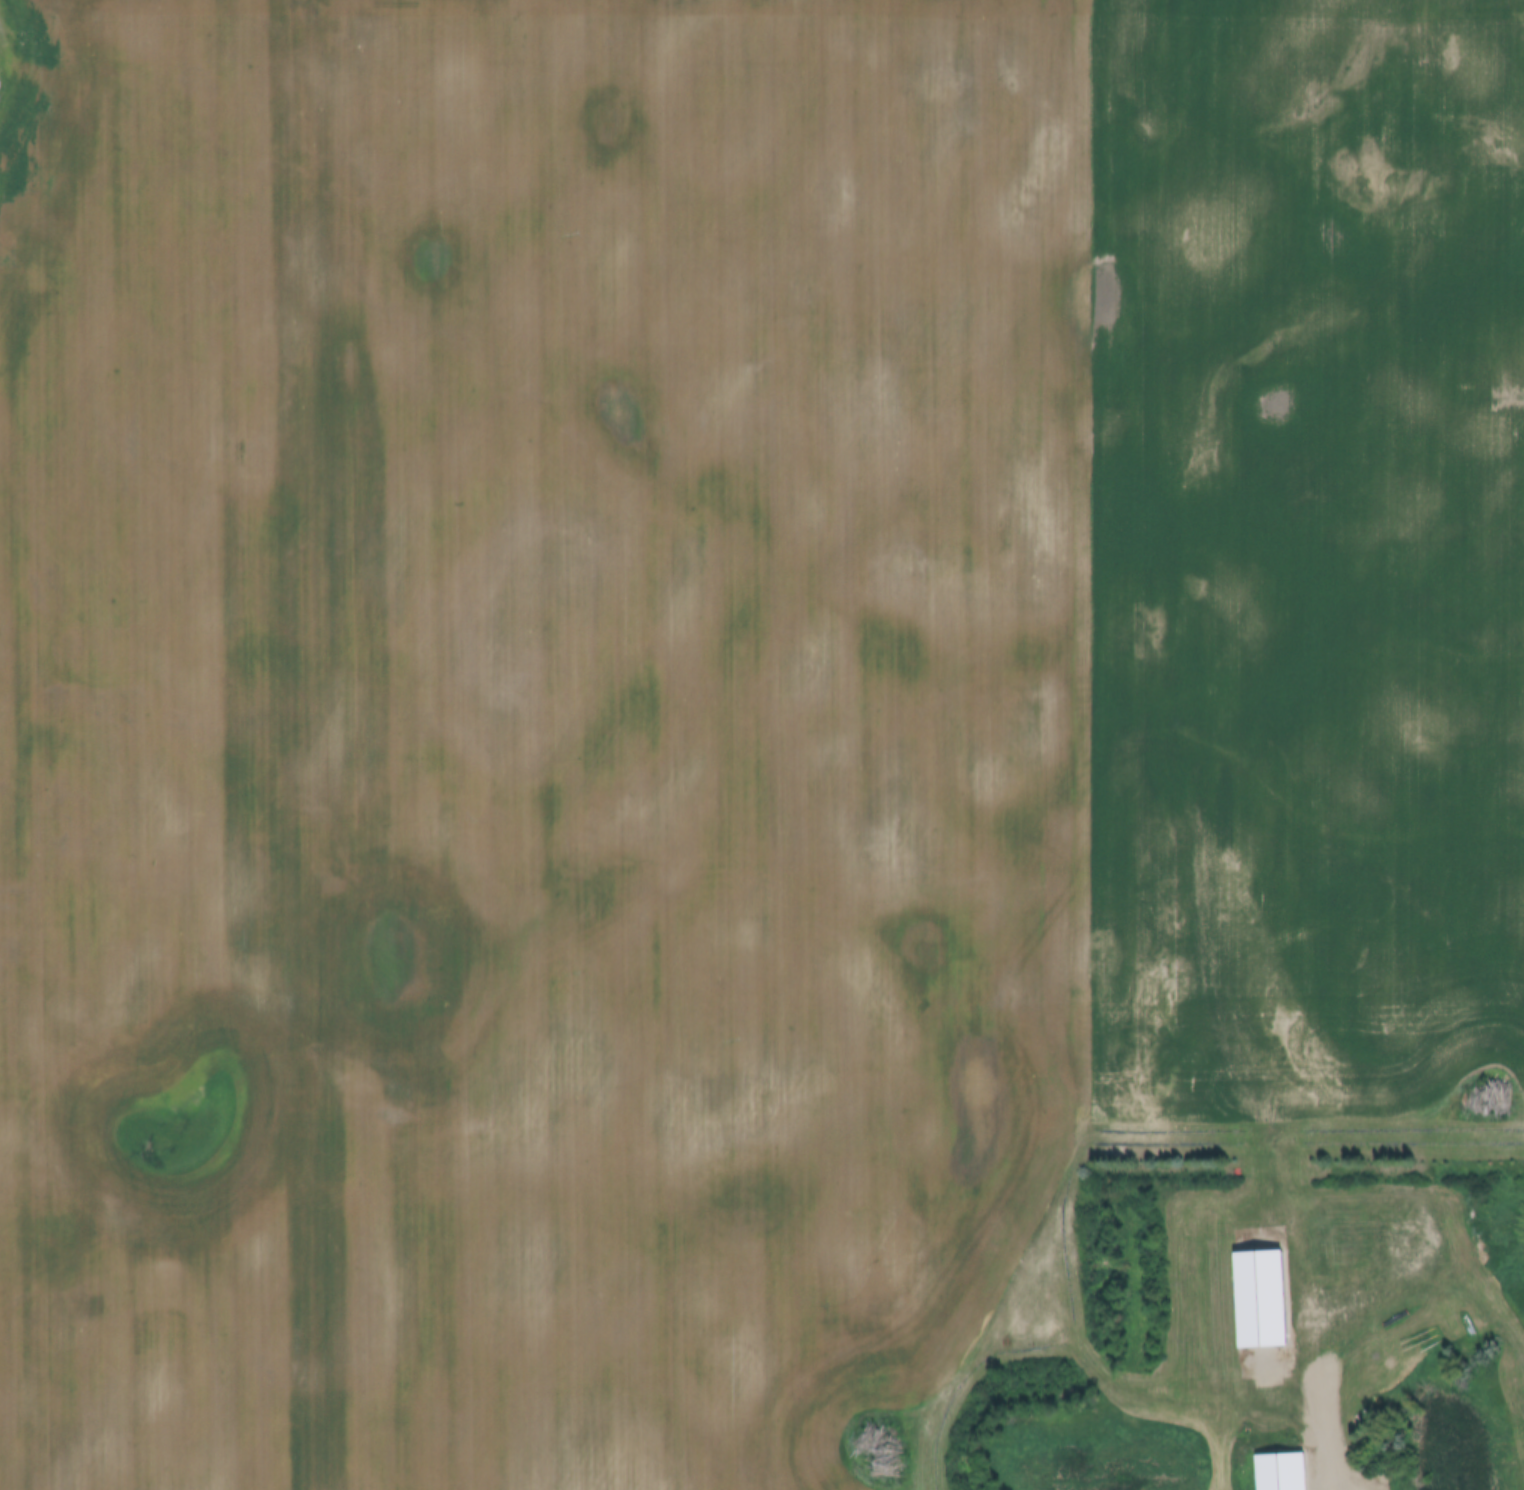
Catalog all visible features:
road: (1429, 1286)
building: (1258, 1291)
road: (1288, 1403)
road: (1334, 1428)
building: (1282, 1473)

